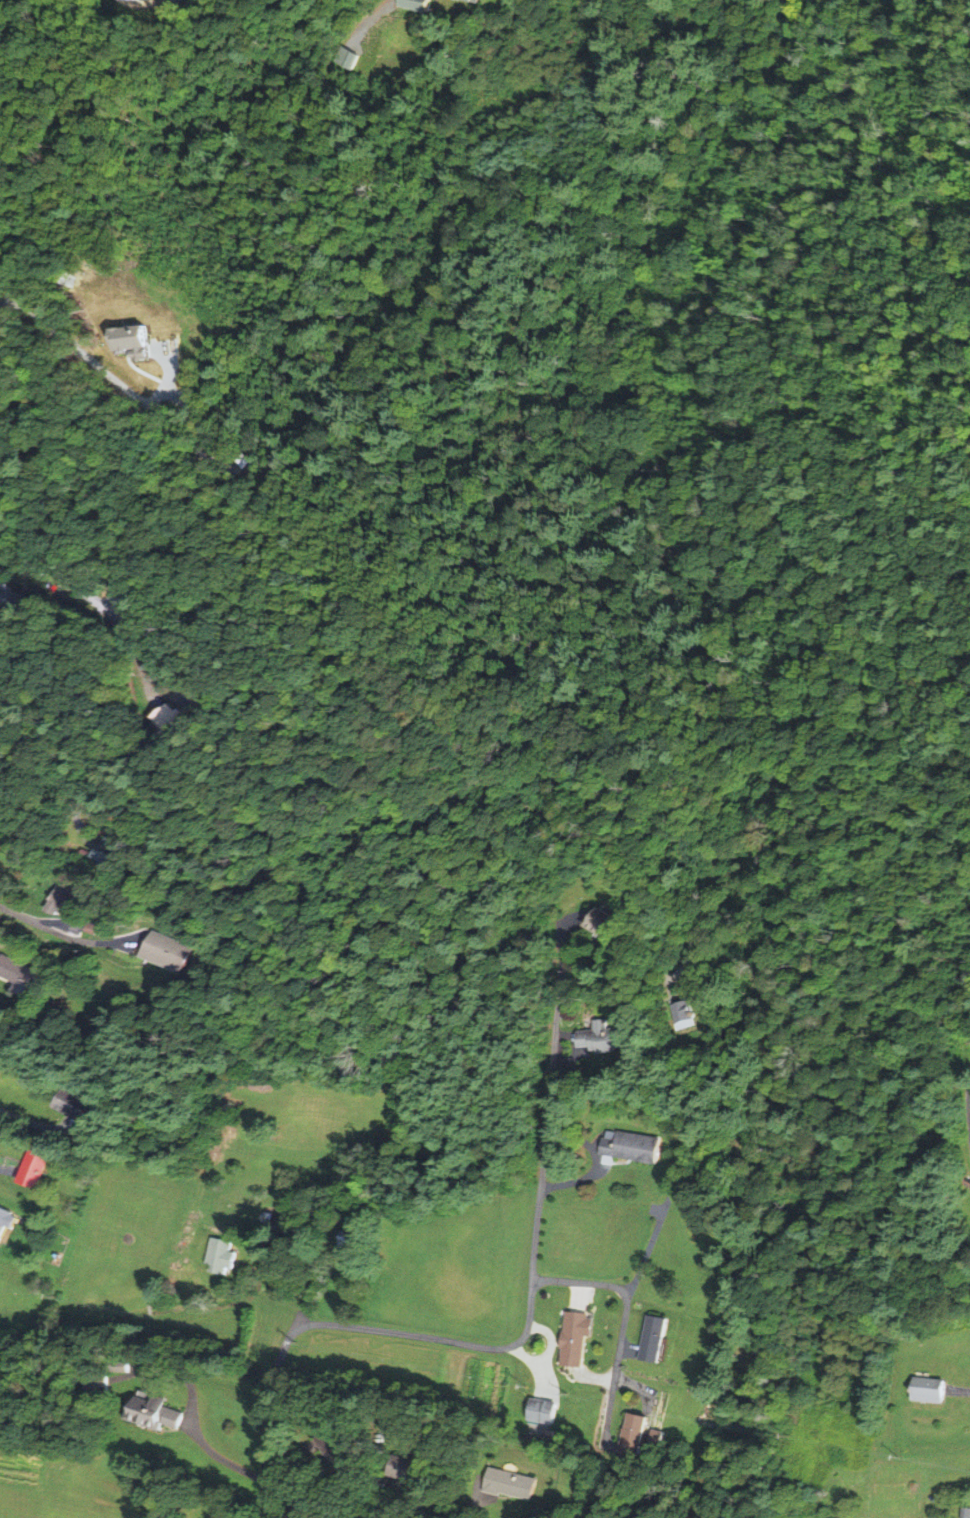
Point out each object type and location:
building: (143, 0)
building: (467, 1)
building: (347, 60)
road: (80, 352)
road: (76, 467)
road: (56, 579)
building: (2, 600)
building: (161, 721)
road: (50, 762)
building: (97, 859)
building: (607, 924)
road: (47, 928)
building: (154, 952)
building: (14, 977)
road: (561, 987)
building: (688, 1011)
building: (679, 1016)
building: (605, 1037)
road: (571, 1057)
building: (63, 1106)
road: (968, 1107)
building: (634, 1146)
road: (595, 1160)
building: (38, 1170)
road: (538, 1211)
building: (7, 1223)
building: (347, 1240)
building: (339, 1243)
road: (649, 1246)
building: (221, 1255)
road: (303, 1290)
building: (311, 1303)
road: (147, 1309)
road: (623, 1320)
road: (306, 1324)
building: (578, 1337)
building: (657, 1338)
road: (551, 1342)
road: (535, 1365)
building: (123, 1366)
building: (112, 1367)
building: (100, 1383)
building: (928, 1389)
road: (959, 1391)
building: (544, 1410)
building: (157, 1411)
building: (396, 1418)
road: (192, 1428)
building: (638, 1433)
building: (661, 1438)
building: (475, 1440)
building: (336, 1450)
building: (410, 1468)
building: (512, 1483)
road: (476, 1493)
road: (319, 1509)
building: (965, 1512)

